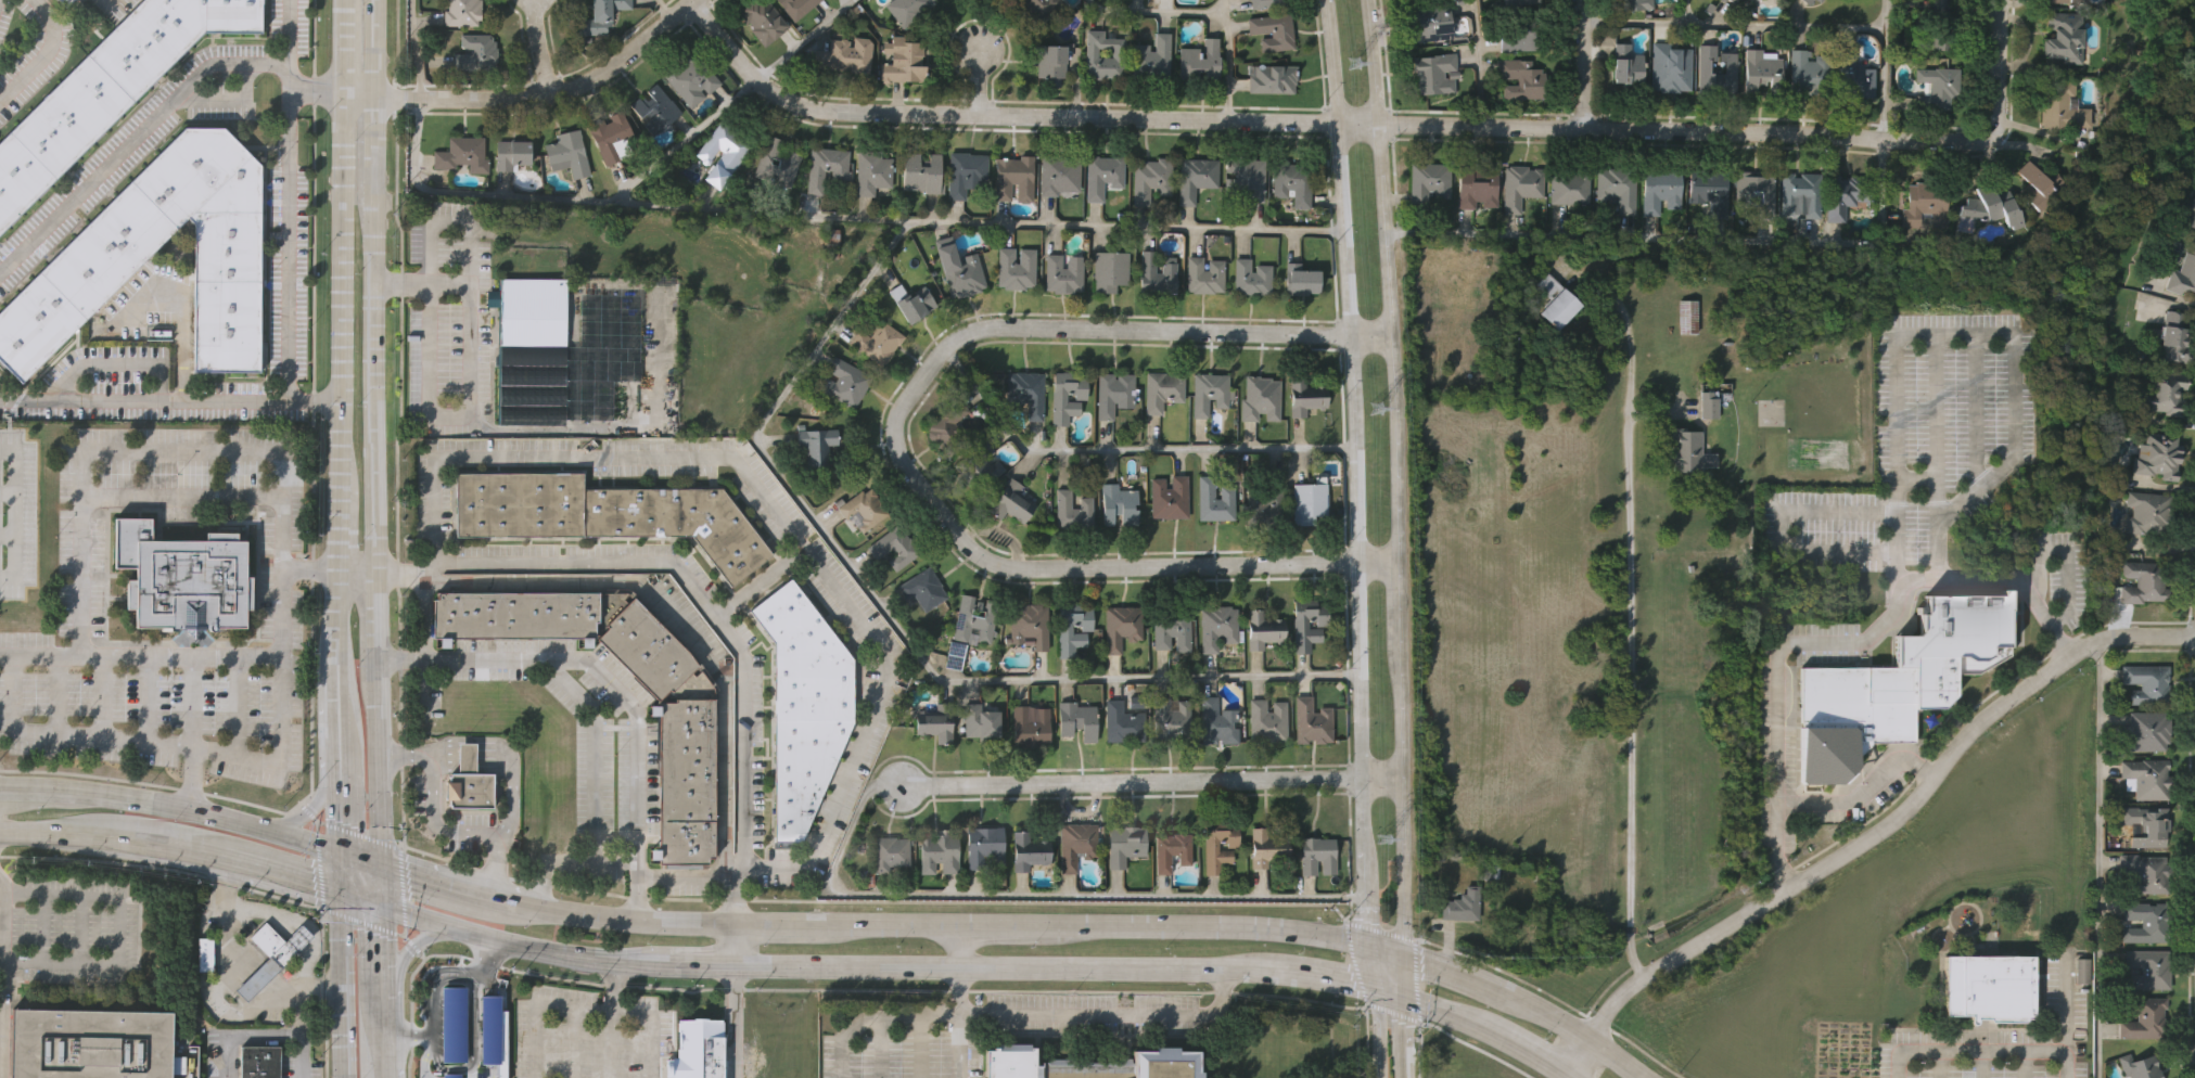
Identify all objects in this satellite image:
building: (1751, 0)
building: (1820, 0)
building: (67, 1)
building: (1515, 1)
building: (1733, 1)
building: (1809, 1)
building: (2062, 1)
building: (1527, 2)
road: (105, 3)
building: (1268, 3)
building: (1635, 3)
park: (2159, 4)
building: (797, 7)
building: (906, 9)
building: (1038, 9)
road: (661, 11)
building: (463, 12)
road: (1686, 12)
road: (1154, 14)
building: (599, 16)
building: (764, 20)
building: (1429, 21)
building: (1941, 25)
road: (1735, 26)
building: (1273, 31)
building: (1520, 35)
building: (2065, 37)
road: (806, 40)
road: (339, 46)
road: (540, 48)
road: (416, 50)
building: (474, 53)
building: (844, 54)
road: (44, 55)
building: (1102, 55)
building: (1151, 57)
building: (904, 59)
road: (1229, 59)
power tower: (1360, 60)
building: (1049, 62)
building: (1199, 62)
road: (1480, 62)
road: (1584, 63)
road: (1998, 63)
building: (1628, 65)
building: (1731, 66)
building: (1670, 68)
building: (1761, 70)
building: (1433, 72)
building: (1809, 73)
building: (1852, 74)
building: (1521, 77)
building: (691, 78)
building: (1271, 79)
road: (981, 80)
building: (1937, 87)
building: (106, 89)
road: (314, 91)
road: (531, 98)
building: (2060, 103)
building: (654, 108)
road: (1325, 118)
building: (612, 138)
road: (131, 142)
road: (685, 143)
building: (569, 152)
building: (723, 152)
building: (511, 154)
building: (463, 155)
building: (789, 162)
building: (822, 167)
building: (871, 172)
building: (921, 172)
building: (963, 172)
building: (1059, 175)
building: (1101, 175)
building: (1013, 178)
building: (1196, 178)
building: (1245, 178)
building: (1151, 180)
building: (1291, 181)
building: (1426, 181)
building: (1521, 184)
building: (1571, 184)
building: (2040, 184)
building: (1475, 187)
building: (1662, 187)
building: (1618, 188)
building: (1709, 190)
building: (1757, 190)
building: (1800, 192)
building: (1846, 192)
road: (288, 201)
building: (1925, 203)
building: (1991, 204)
building: (2188, 208)
road: (448, 218)
road: (833, 220)
building: (832, 243)
road: (1749, 243)
building: (91, 267)
building: (1016, 269)
building: (1157, 270)
building: (1109, 271)
building: (1062, 273)
building: (2183, 273)
building: (962, 274)
building: (1203, 275)
building: (1251, 278)
building: (1299, 279)
road: (339, 280)
road: (418, 283)
building: (911, 301)
building: (1556, 301)
building: (1688, 315)
building: (2173, 339)
building: (879, 341)
building: (529, 350)
road: (1898, 381)
building: (845, 382)
building: (1162, 390)
building: (1025, 393)
building: (1209, 393)
building: (1113, 394)
building: (2166, 395)
building: (1305, 396)
building: (1259, 398)
building: (1058, 400)
road: (143, 401)
road: (311, 403)
building: (1709, 406)
power tower: (1375, 407)
road: (1977, 412)
road: (447, 414)
road: (1938, 424)
building: (949, 428)
road: (370, 433)
road: (896, 441)
building: (818, 442)
road: (1128, 451)
road: (179, 452)
building: (1688, 452)
building: (2159, 458)
building: (978, 466)
road: (1361, 474)
road: (1391, 477)
road: (179, 487)
building: (1169, 499)
building: (1213, 501)
building: (1309, 501)
building: (1010, 502)
building: (1118, 504)
building: (1265, 505)
building: (864, 510)
road: (776, 512)
building: (1071, 512)
road: (13, 513)
building: (607, 513)
building: (2149, 513)
road: (339, 516)
building: (893, 547)
road: (309, 555)
road: (354, 567)
road: (309, 570)
building: (182, 577)
building: (2142, 581)
road: (758, 582)
building: (924, 588)
road: (695, 592)
building: (515, 614)
building: (975, 620)
road: (676, 623)
road: (893, 623)
building: (1029, 625)
building: (1217, 625)
building: (1122, 626)
road: (339, 627)
building: (1301, 627)
building: (1172, 629)
building: (1262, 629)
building: (1065, 632)
road: (1629, 632)
road: (1840, 644)
building: (648, 647)
road: (7, 656)
building: (1930, 678)
building: (2146, 681)
building: (1891, 683)
road: (609, 684)
building: (803, 704)
building: (1172, 718)
building: (1312, 718)
road: (342, 719)
building: (1076, 719)
building: (1268, 719)
building: (937, 720)
building: (981, 720)
building: (1123, 721)
building: (1216, 721)
building: (1030, 726)
building: (2145, 731)
road: (281, 747)
road: (590, 752)
road: (506, 758)
building: (2148, 777)
building: (685, 780)
road: (190, 781)
building: (469, 781)
road: (1149, 783)
road: (1861, 792)
road: (311, 803)
road: (343, 803)
road: (130, 806)
road: (305, 810)
road: (434, 818)
road: (1890, 823)
building: (2148, 823)
road: (53, 832)
road: (355, 833)
power tower: (1382, 842)
building: (1075, 844)
building: (1125, 844)
building: (985, 845)
building: (1267, 845)
road: (301, 846)
road: (174, 848)
building: (1209, 849)
building: (1029, 850)
building: (939, 851)
building: (1173, 851)
building: (890, 852)
building: (1317, 855)
traffic signals: (343, 858)
road: (2098, 859)
road: (358, 861)
road: (565, 862)
road: (317, 863)
traffic signals: (374, 865)
road: (162, 868)
building: (2146, 873)
road: (343, 876)
road: (292, 877)
road: (686, 878)
road: (374, 884)
road: (444, 889)
road: (399, 890)
traffic signals: (344, 896)
road: (359, 899)
road: (872, 900)
traffic signals: (375, 903)
building: (1464, 904)
road: (278, 915)
road: (625, 920)
road: (360, 921)
building: (2144, 921)
road: (771, 925)
road: (882, 927)
road: (996, 929)
road: (1378, 929)
road: (118, 931)
road: (1203, 932)
road: (508, 939)
road: (229, 942)
road: (344, 942)
road: (735, 944)
road: (411, 947)
road: (956, 947)
road: (485, 950)
traffic signals: (1368, 950)
road: (1384, 952)
building: (271, 953)
building: (203, 954)
traffic signals: (1402, 955)
road: (689, 960)
road: (398, 962)
road: (1352, 963)
road: (375, 965)
road: (1008, 965)
road: (1369, 965)
building: (2148, 967)
road: (1327, 970)
road: (1402, 974)
road: (1454, 975)
road: (2, 978)
road: (1414, 978)
road: (253, 980)
traffic signals: (1370, 980)
road: (1387, 986)
road: (279, 988)
building: (1987, 988)
road: (321, 990)
traffic signals: (1403, 992)
road: (564, 1006)
road: (1390, 1011)
road: (297, 1012)
road: (1029, 1014)
road: (1546, 1016)
building: (2143, 1017)
road: (732, 1019)
road: (958, 1021)
road: (650, 1025)
road: (1490, 1025)
road: (1378, 1028)
road: (344, 1034)
building: (490, 1034)
building: (461, 1035)
road: (1403, 1035)
road: (267, 1036)
road: (403, 1036)
road: (572, 1042)
building: (93, 1043)
road: (1415, 1048)
building: (697, 1049)
road: (1930, 1052)
road: (2020, 1052)
road: (378, 1053)
road: (1580, 1054)
road: (1613, 1058)
building: (257, 1062)
building: (1167, 1063)
road: (436, 1065)
building: (1046, 1066)
building: (2136, 1066)
road: (1579, 1074)

